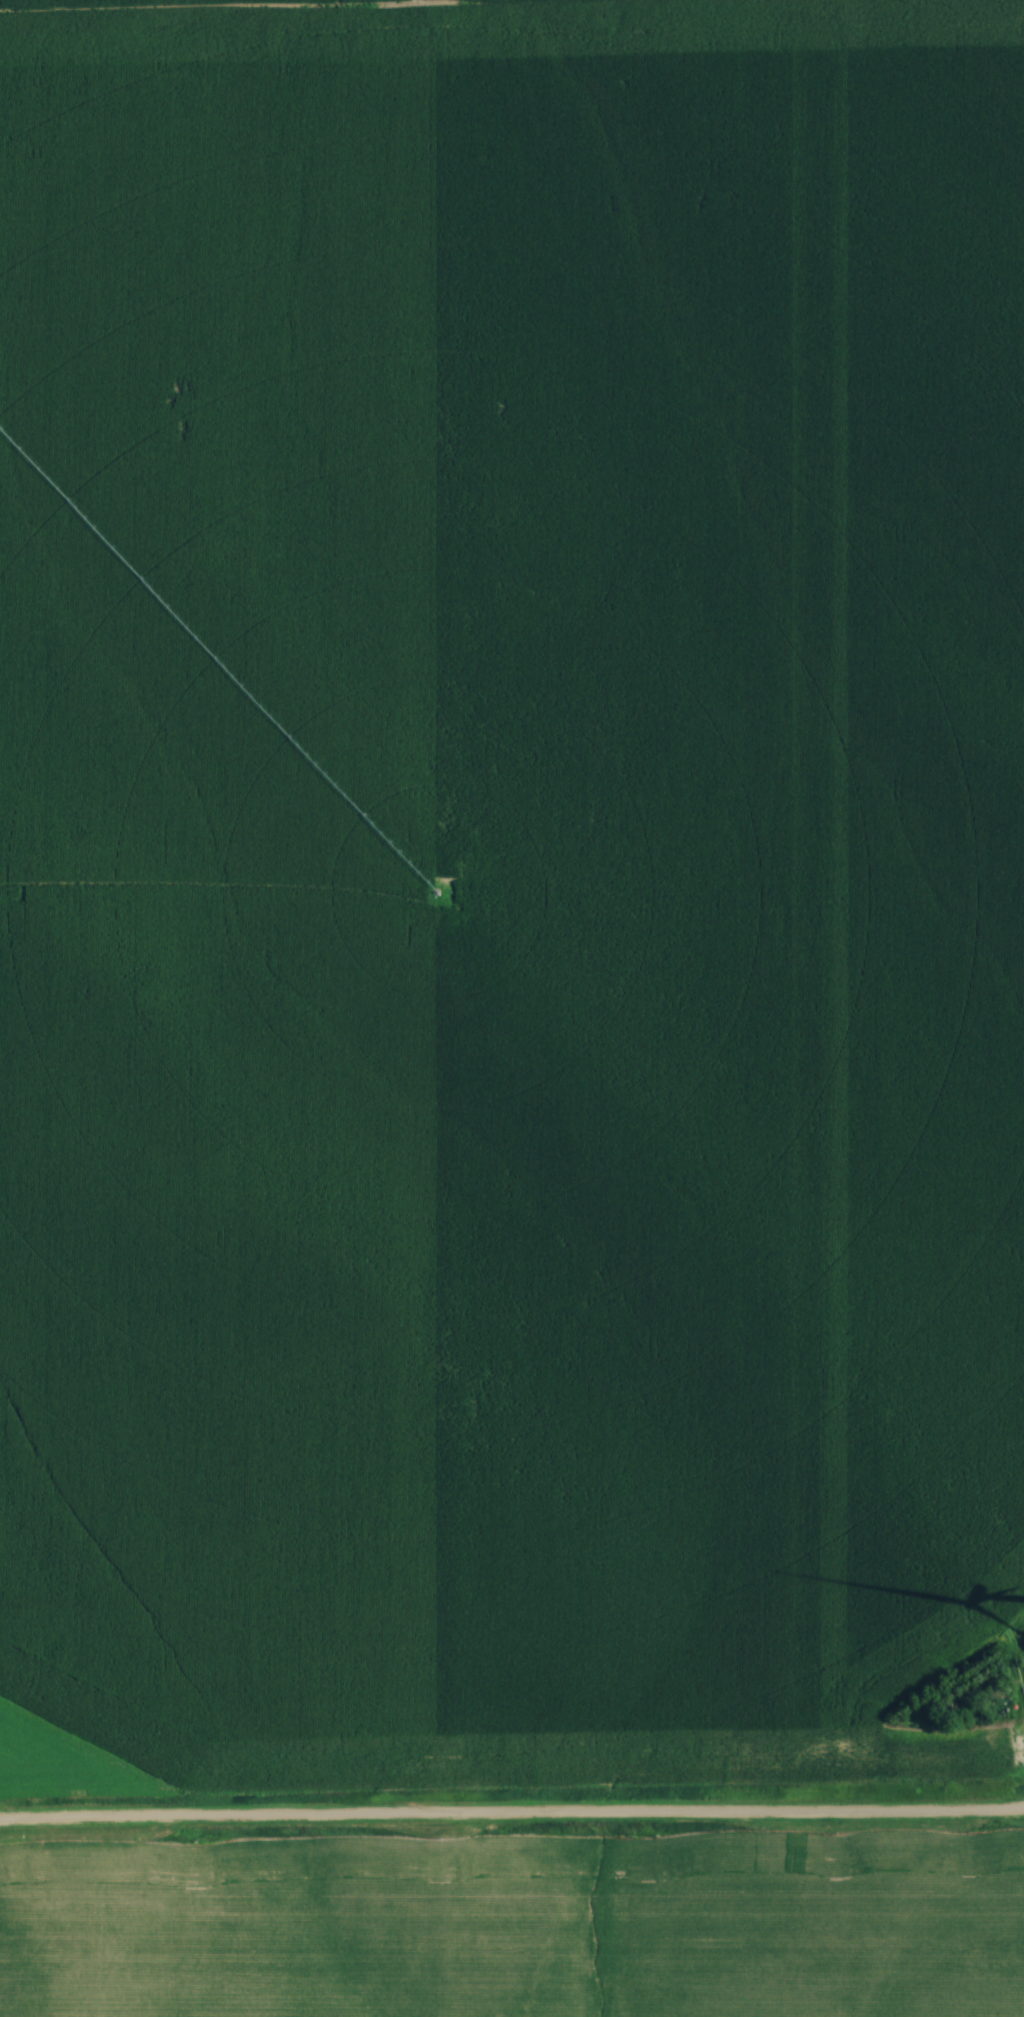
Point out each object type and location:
road: (512, 1819)

